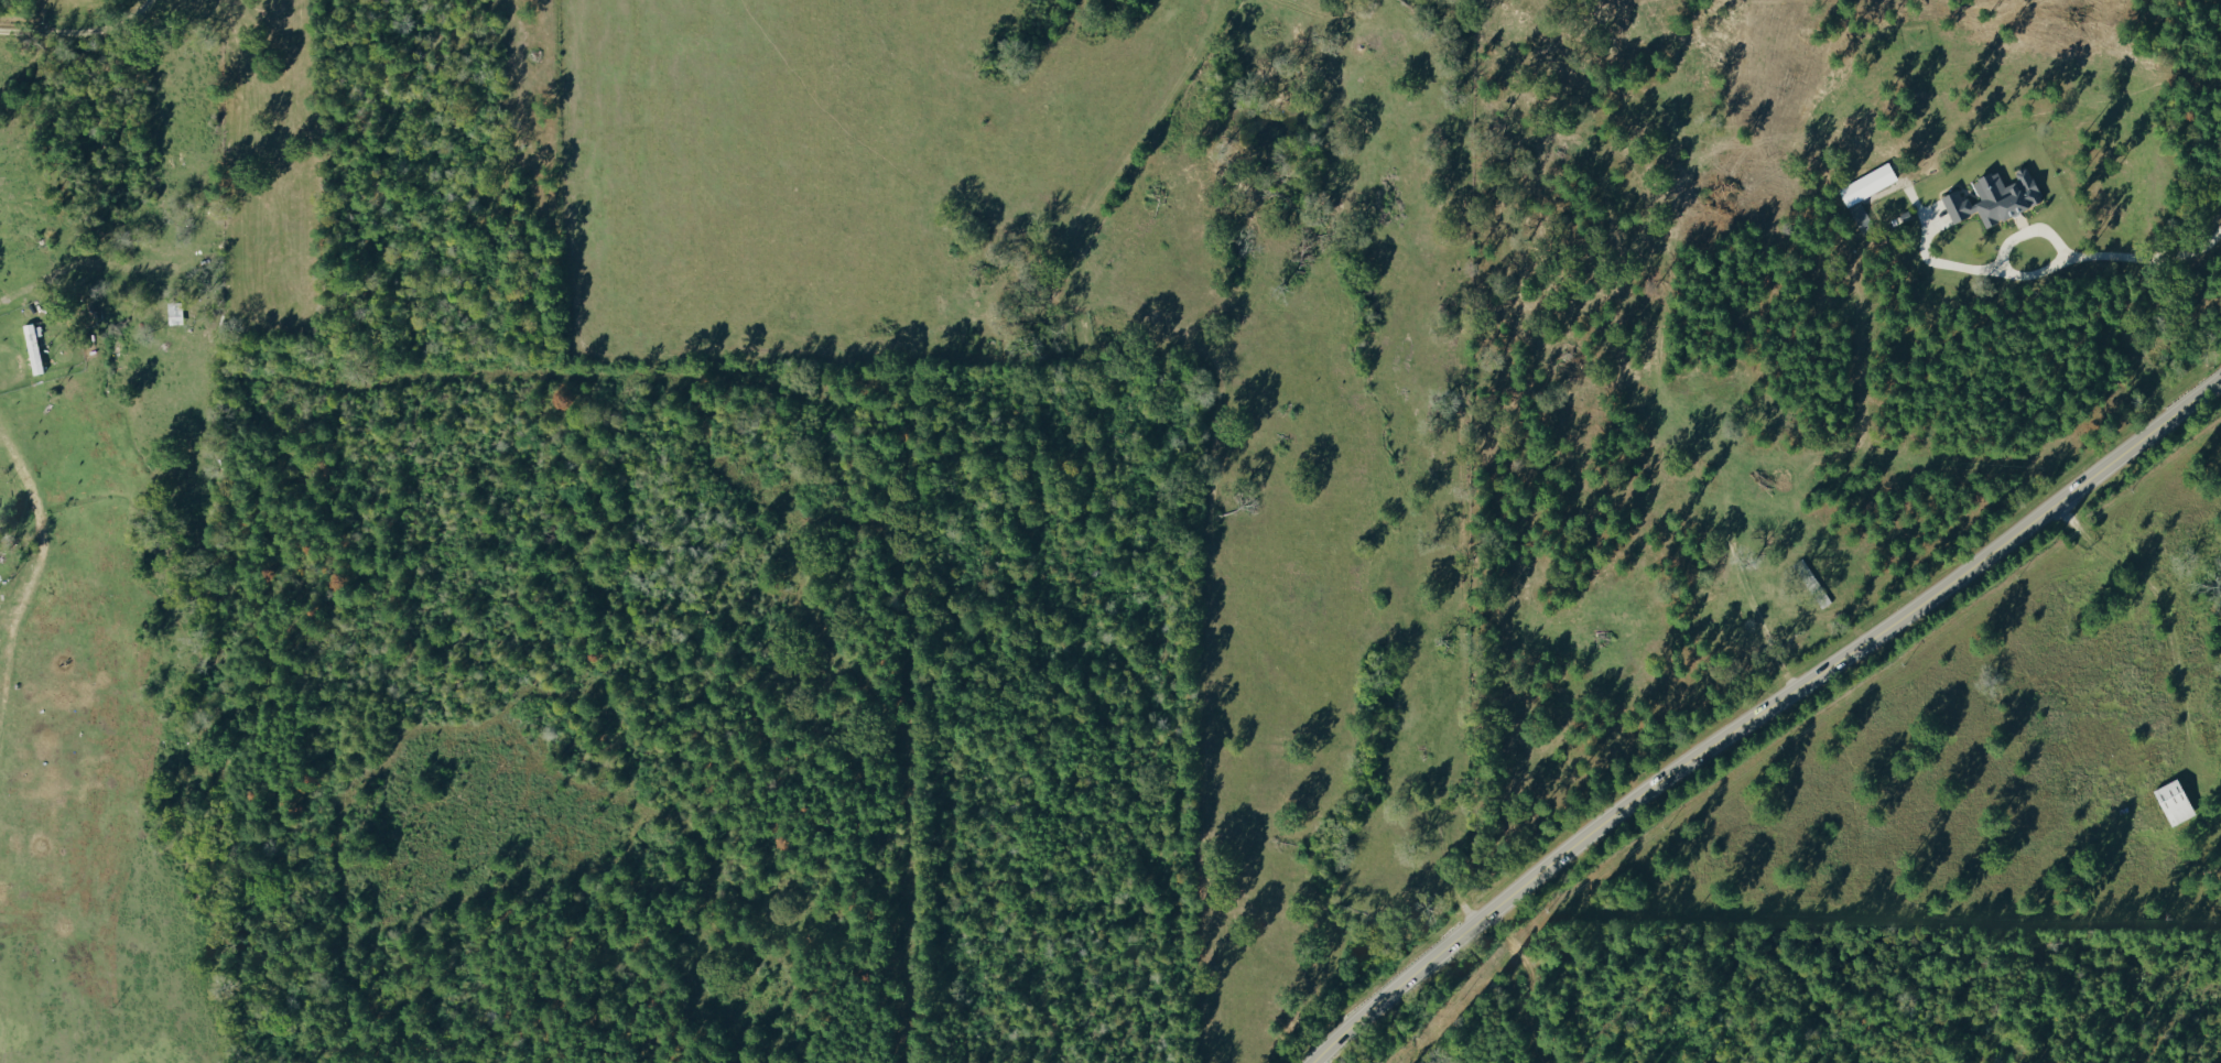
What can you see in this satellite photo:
road: (78, 29)
building: (1998, 197)
road: (2057, 261)
building: (34, 349)
road: (9, 460)
road: (2162, 601)
road: (1755, 711)
building: (2178, 801)

